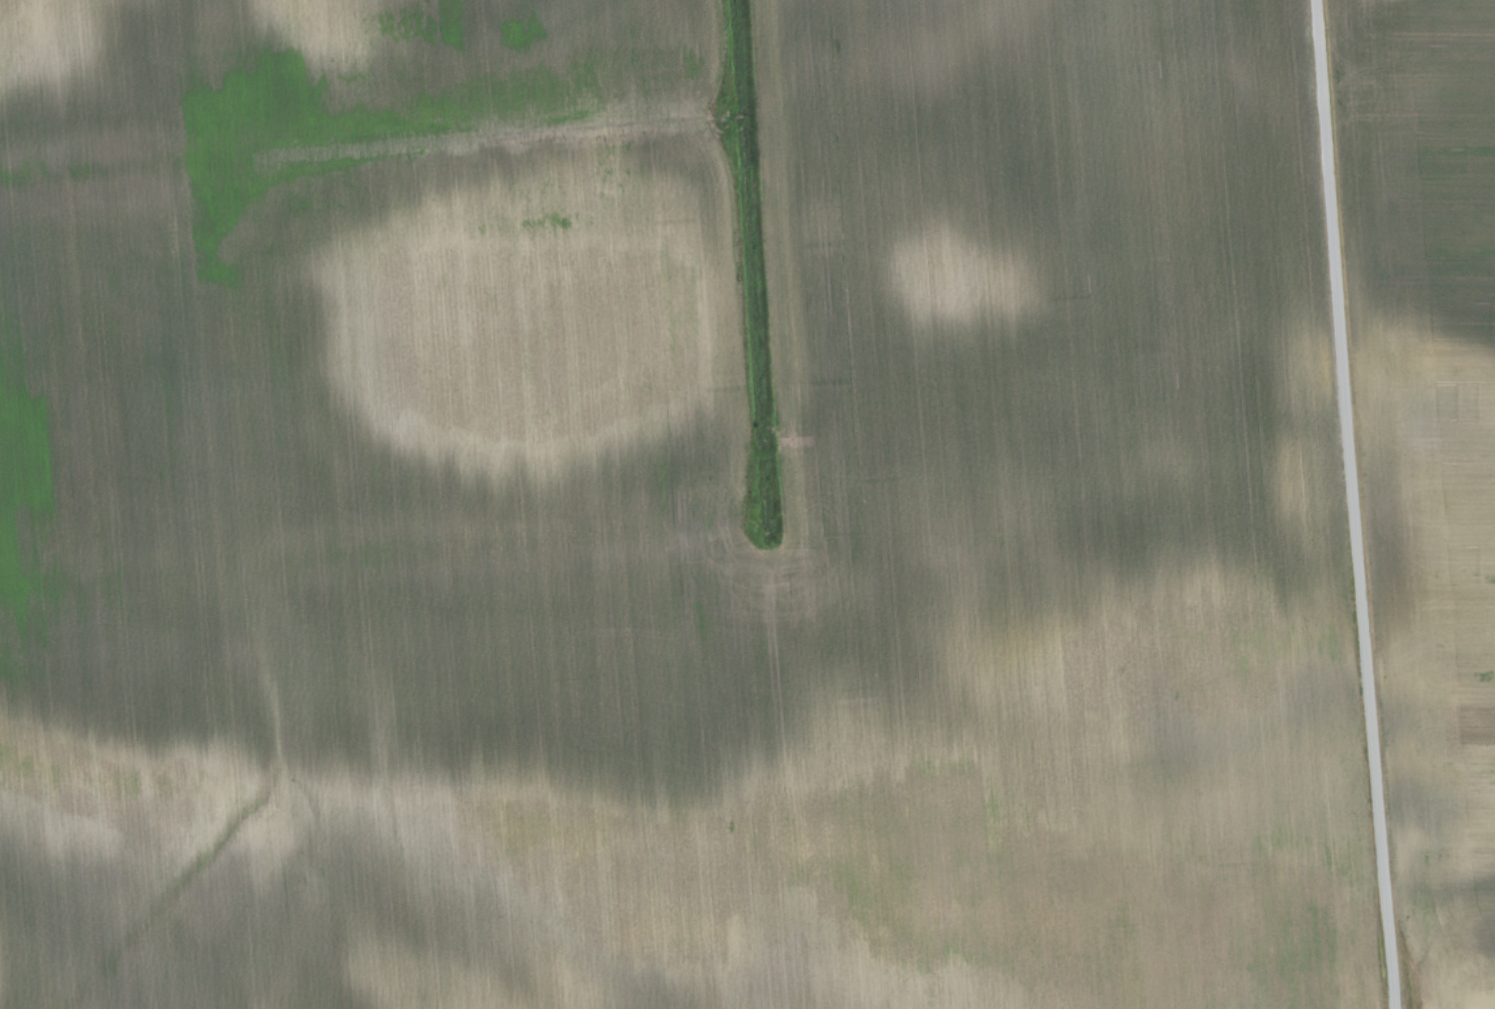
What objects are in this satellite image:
road: (1352, 504)

